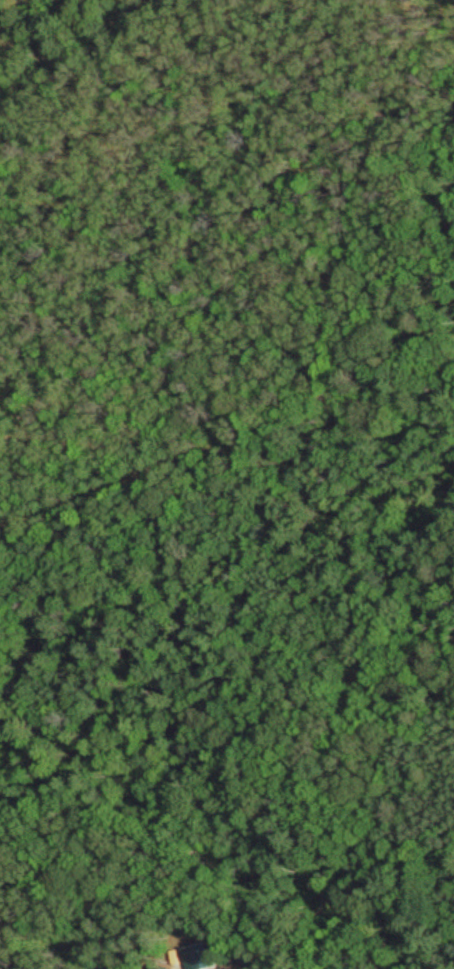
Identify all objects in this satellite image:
building: (208, 955)

